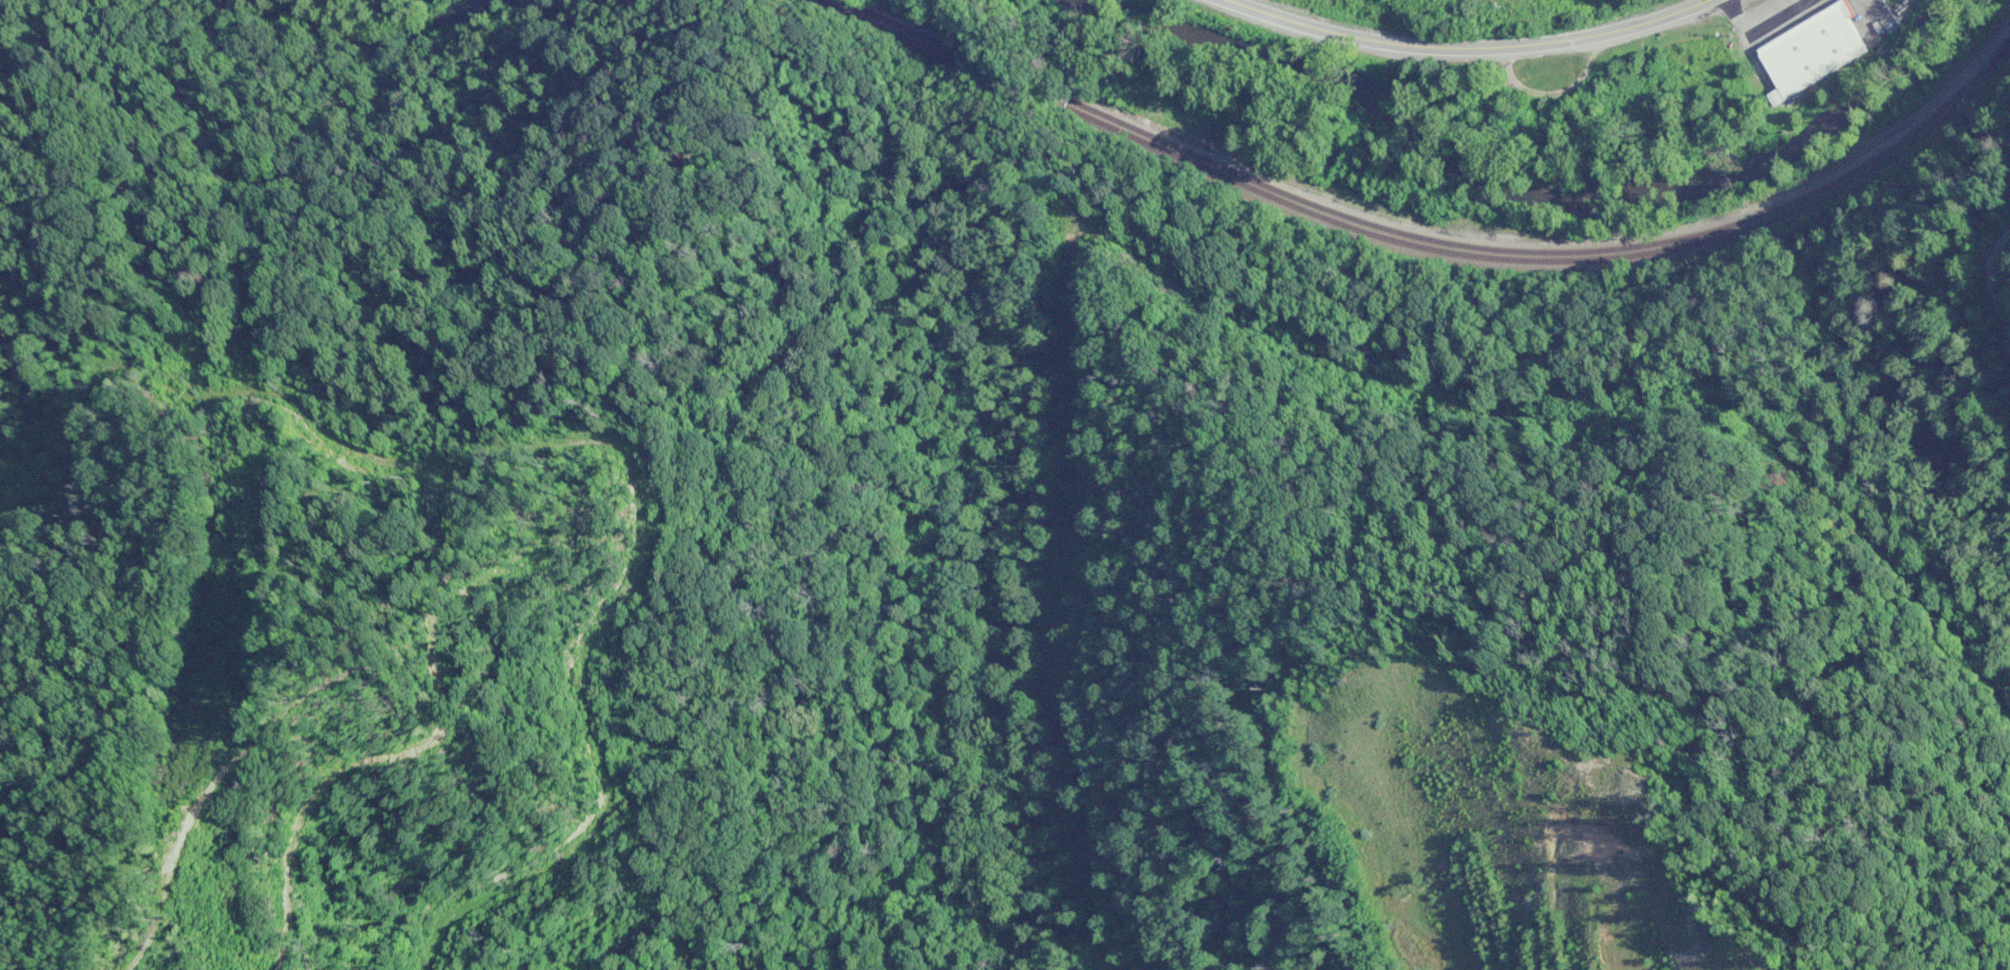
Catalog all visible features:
road: (1471, 48)
building: (1813, 52)
railway: (1432, 230)
railway: (1415, 239)

